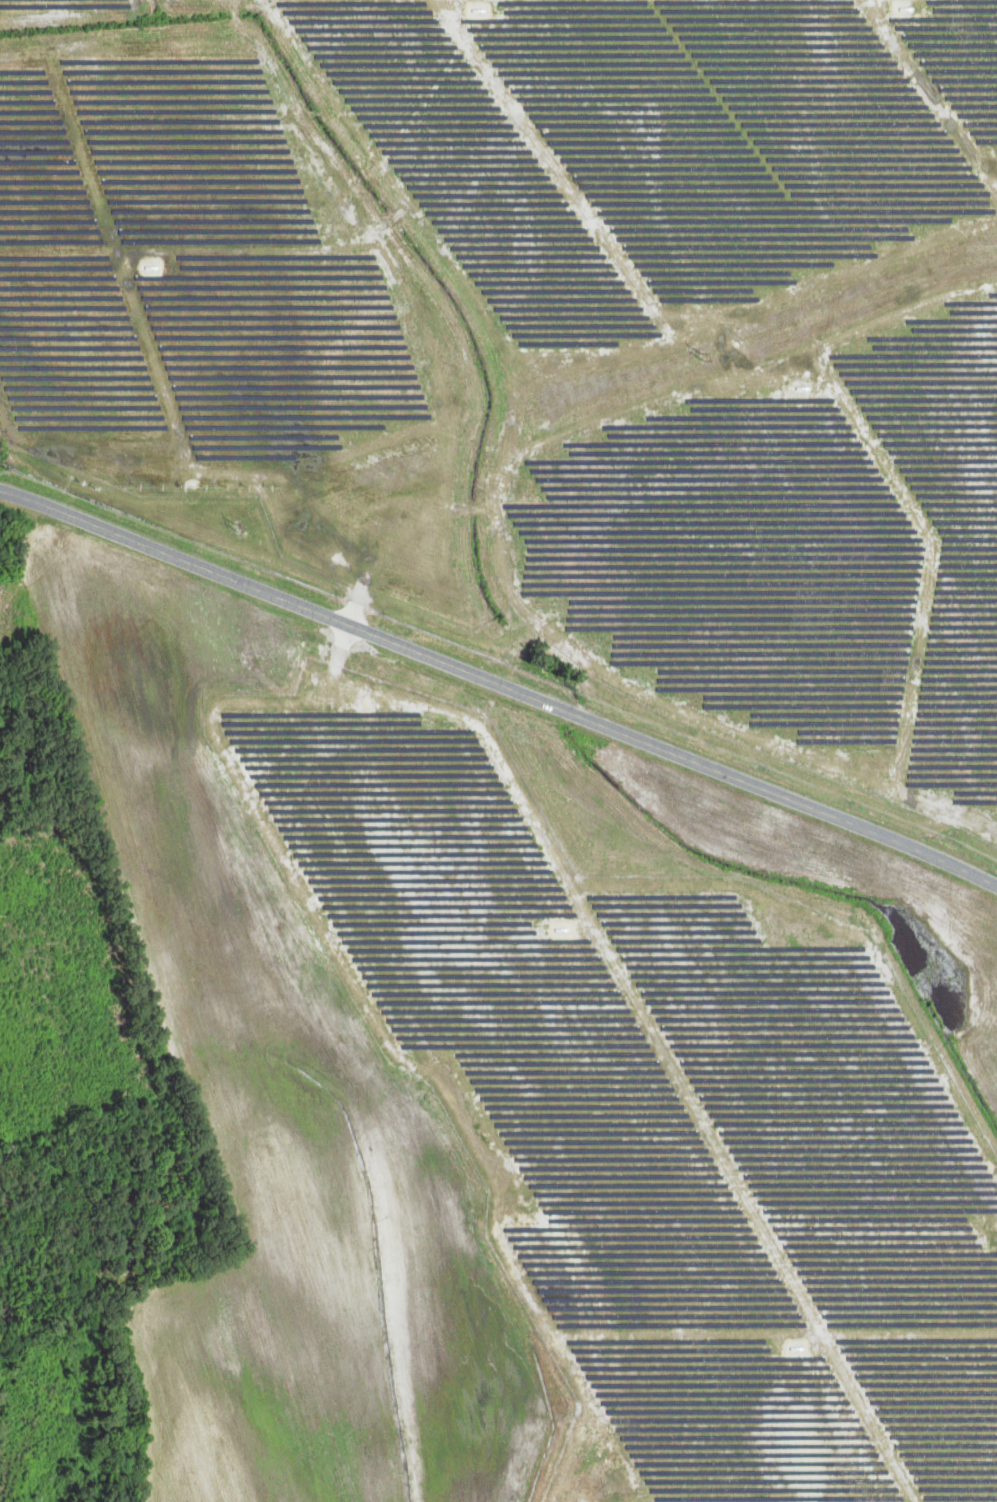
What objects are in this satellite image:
solar farm: (552, 330)
power tower: (703, 356)
power tower: (236, 527)
road: (499, 685)
solar farm: (655, 1116)

